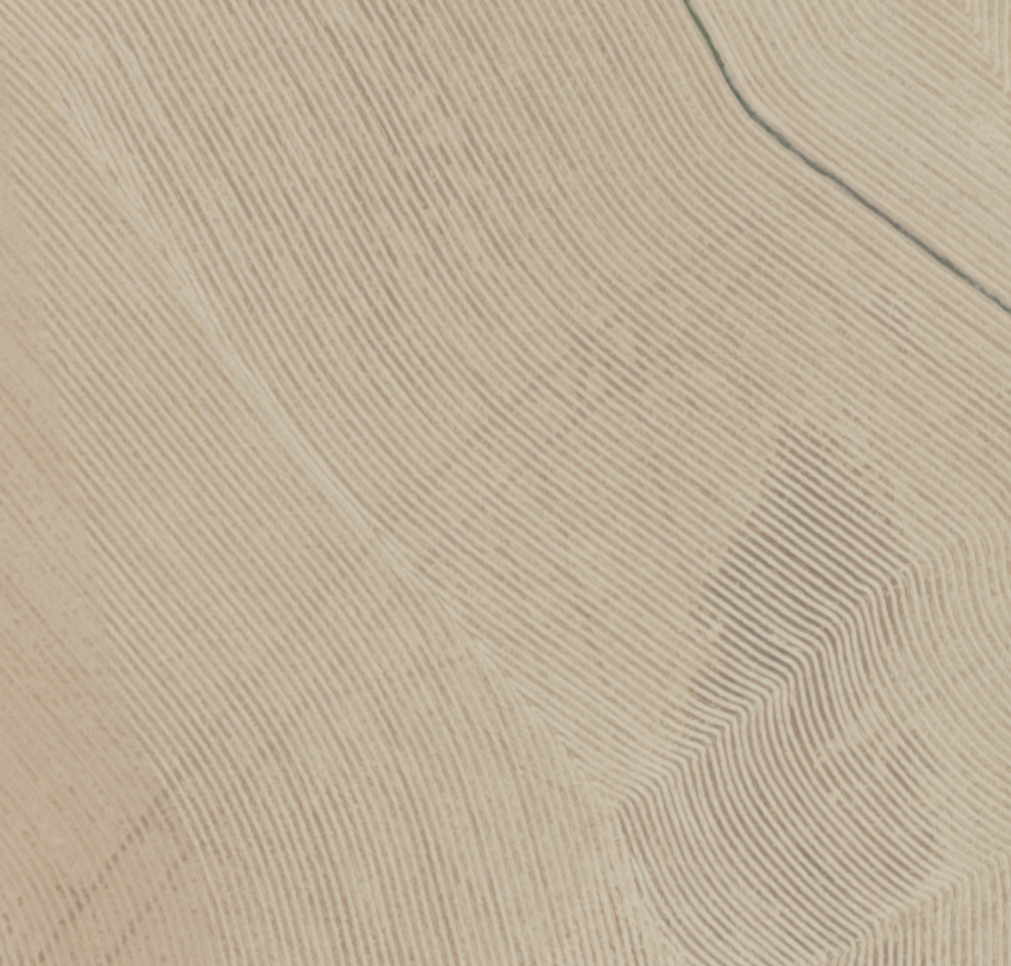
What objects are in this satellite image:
crop: (505, 483)

